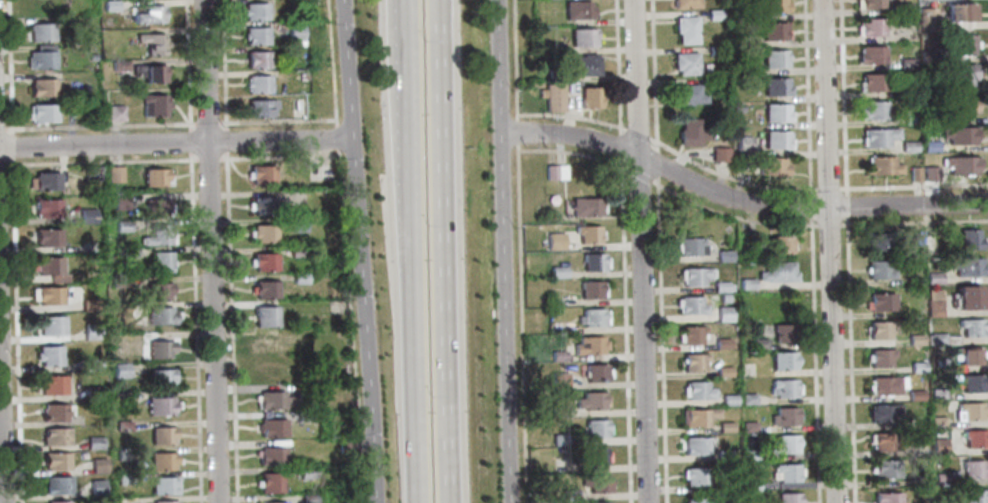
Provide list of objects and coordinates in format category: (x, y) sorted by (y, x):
building: (685, 3)
building: (873, 3)
building: (109, 5)
building: (39, 6)
building: (774, 6)
building: (904, 6)
building: (577, 10)
building: (254, 11)
building: (961, 11)
building: (146, 13)
building: (713, 15)
building: (928, 18)
road: (407, 21)
building: (874, 26)
building: (685, 29)
building: (772, 30)
building: (40, 32)
building: (294, 35)
building: (255, 36)
building: (581, 36)
building: (151, 43)
building: (964, 43)
building: (553, 47)
building: (715, 51)
building: (873, 54)
building: (930, 55)
building: (90, 57)
building: (39, 59)
building: (256, 59)
road: (513, 59)
building: (774, 59)
road: (330, 62)
building: (684, 63)
building: (909, 63)
building: (584, 64)
building: (118, 65)
road: (221, 65)
road: (186, 66)
road: (616, 66)
road: (8, 67)
road: (347, 68)
building: (148, 72)
building: (964, 74)
building: (554, 75)
road: (653, 75)
building: (715, 82)
building: (875, 82)
building: (256, 83)
building: (41, 86)
building: (775, 86)
building: (929, 86)
building: (909, 90)
building: (686, 94)
building: (553, 97)
building: (589, 97)
road: (806, 97)
road: (842, 97)
building: (151, 105)
building: (965, 105)
building: (258, 107)
building: (737, 109)
building: (876, 109)
building: (41, 112)
building: (114, 112)
building: (775, 113)
road: (570, 116)
building: (912, 116)
road: (275, 120)
road: (205, 123)
road: (99, 125)
road: (1, 128)
road: (515, 132)
building: (689, 132)
road: (636, 133)
building: (961, 134)
building: (881, 135)
road: (335, 136)
building: (776, 140)
road: (188, 141)
road: (224, 141)
road: (176, 143)
building: (743, 143)
road: (618, 145)
building: (932, 145)
road: (10, 146)
building: (910, 146)
road: (571, 153)
building: (719, 154)
road: (281, 157)
road: (206, 159)
building: (740, 161)
road: (100, 162)
road: (655, 163)
building: (962, 164)
road: (2, 165)
building: (883, 165)
building: (771, 166)
building: (557, 171)
building: (92, 172)
building: (113, 173)
building: (916, 173)
building: (932, 173)
building: (260, 174)
road: (638, 174)
building: (155, 176)
road: (728, 177)
building: (44, 181)
road: (914, 186)
road: (829, 188)
road: (737, 200)
building: (119, 201)
building: (261, 205)
building: (156, 206)
building: (587, 206)
road: (809, 206)
road: (845, 206)
building: (46, 207)
building: (86, 215)
road: (730, 215)
road: (913, 222)
building: (296, 224)
building: (120, 225)
road: (827, 225)
building: (263, 233)
building: (590, 234)
building: (157, 235)
building: (47, 237)
building: (915, 238)
building: (968, 239)
building: (556, 240)
building: (770, 242)
building: (874, 242)
building: (688, 246)
road: (210, 251)
building: (297, 251)
road: (447, 251)
road: (502, 251)
road: (639, 251)
road: (829, 251)
building: (128, 252)
building: (723, 255)
building: (263, 261)
building: (158, 262)
building: (594, 262)
building: (965, 266)
building: (49, 268)
building: (877, 269)
building: (775, 271)
road: (413, 272)
building: (693, 275)
building: (298, 278)
building: (932, 278)
building: (119, 281)
building: (745, 284)
building: (719, 286)
building: (264, 289)
building: (157, 290)
building: (593, 290)
building: (48, 295)
building: (966, 297)
building: (722, 298)
building: (880, 301)
building: (933, 302)
building: (88, 304)
building: (690, 305)
building: (723, 313)
building: (158, 315)
building: (264, 316)
building: (593, 317)
road: (364, 319)
road: (522, 323)
building: (50, 326)
road: (193, 327)
road: (229, 327)
building: (970, 327)
road: (347, 329)
road: (15, 330)
road: (624, 330)
building: (878, 330)
building: (91, 331)
building: (262, 332)
building: (783, 332)
building: (689, 334)
road: (660, 339)
building: (914, 339)
building: (941, 339)
building: (721, 343)
building: (757, 343)
building: (268, 345)
building: (590, 345)
building: (158, 348)
building: (48, 355)
building: (966, 355)
building: (879, 357)
road: (849, 359)
building: (781, 360)
road: (813, 360)
building: (692, 362)
building: (90, 364)
building: (941, 365)
building: (916, 367)
building: (119, 370)
building: (268, 371)
building: (722, 371)
building: (597, 372)
building: (161, 377)
building: (970, 383)
building: (52, 384)
building: (885, 385)
building: (784, 387)
building: (300, 390)
building: (695, 390)
building: (92, 393)
building: (936, 394)
building: (914, 395)
building: (746, 398)
building: (592, 399)
building: (727, 399)
building: (270, 400)
building: (158, 405)
building: (54, 412)
building: (882, 412)
building: (967, 412)
building: (697, 416)
building: (783, 416)
building: (301, 417)
building: (935, 421)
building: (121, 425)
building: (270, 427)
building: (599, 427)
building: (724, 427)
building: (747, 427)
building: (160, 435)
building: (55, 436)
building: (973, 438)
building: (882, 441)
building: (94, 442)
building: (343, 444)
building: (782, 444)
building: (692, 446)
building: (937, 446)
road: (1, 448)
building: (123, 454)
building: (748, 454)
building: (270, 455)
building: (599, 455)
building: (722, 455)
building: (55, 460)
building: (161, 460)
building: (98, 465)
building: (884, 468)
building: (972, 469)
building: (784, 472)
building: (303, 473)
building: (694, 476)
building: (939, 478)
building: (124, 479)
building: (268, 482)
building: (600, 483)
building: (56, 484)
building: (749, 484)
building: (163, 485)
building: (96, 486)
building: (973, 496)
building: (786, 497)
building: (886, 497)
building: (306, 498)
building: (695, 500)
building: (164, 501)
building: (58, 502)
building: (272, 502)

